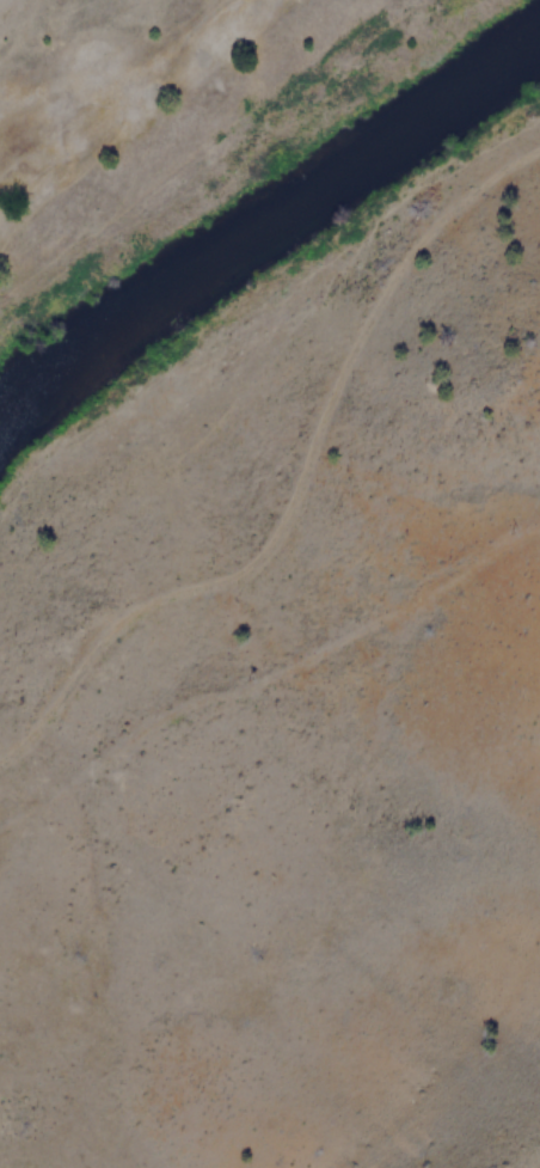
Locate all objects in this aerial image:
park: (141, 105)
river: (263, 228)
road: (296, 497)

